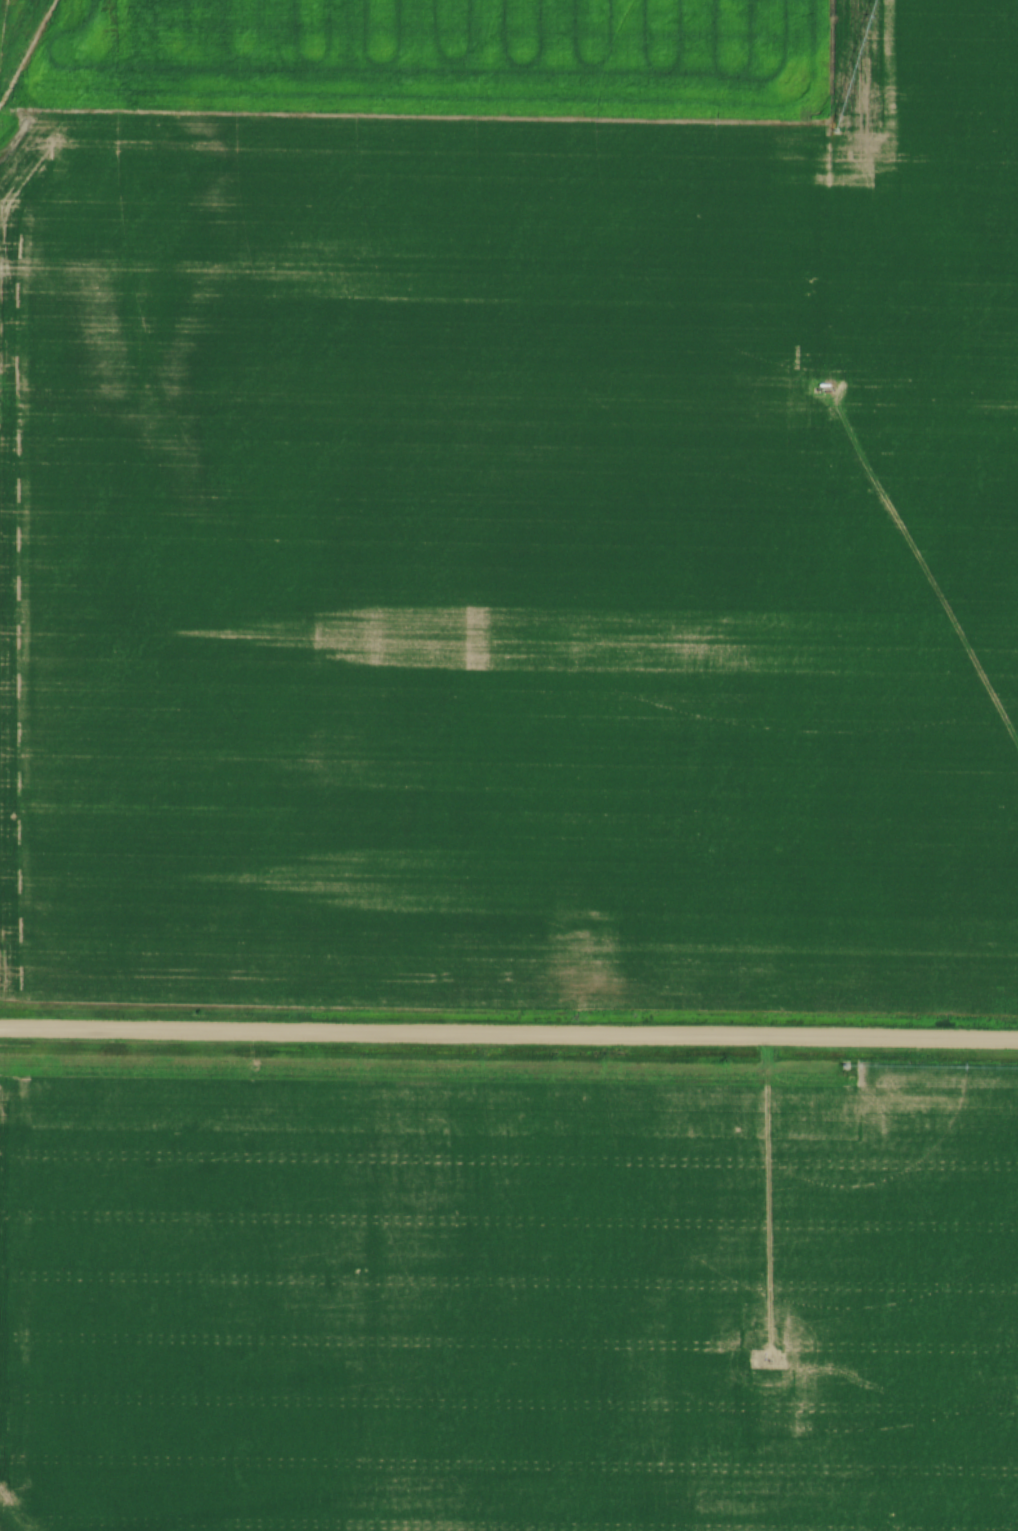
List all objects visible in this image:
road: (508, 1040)

